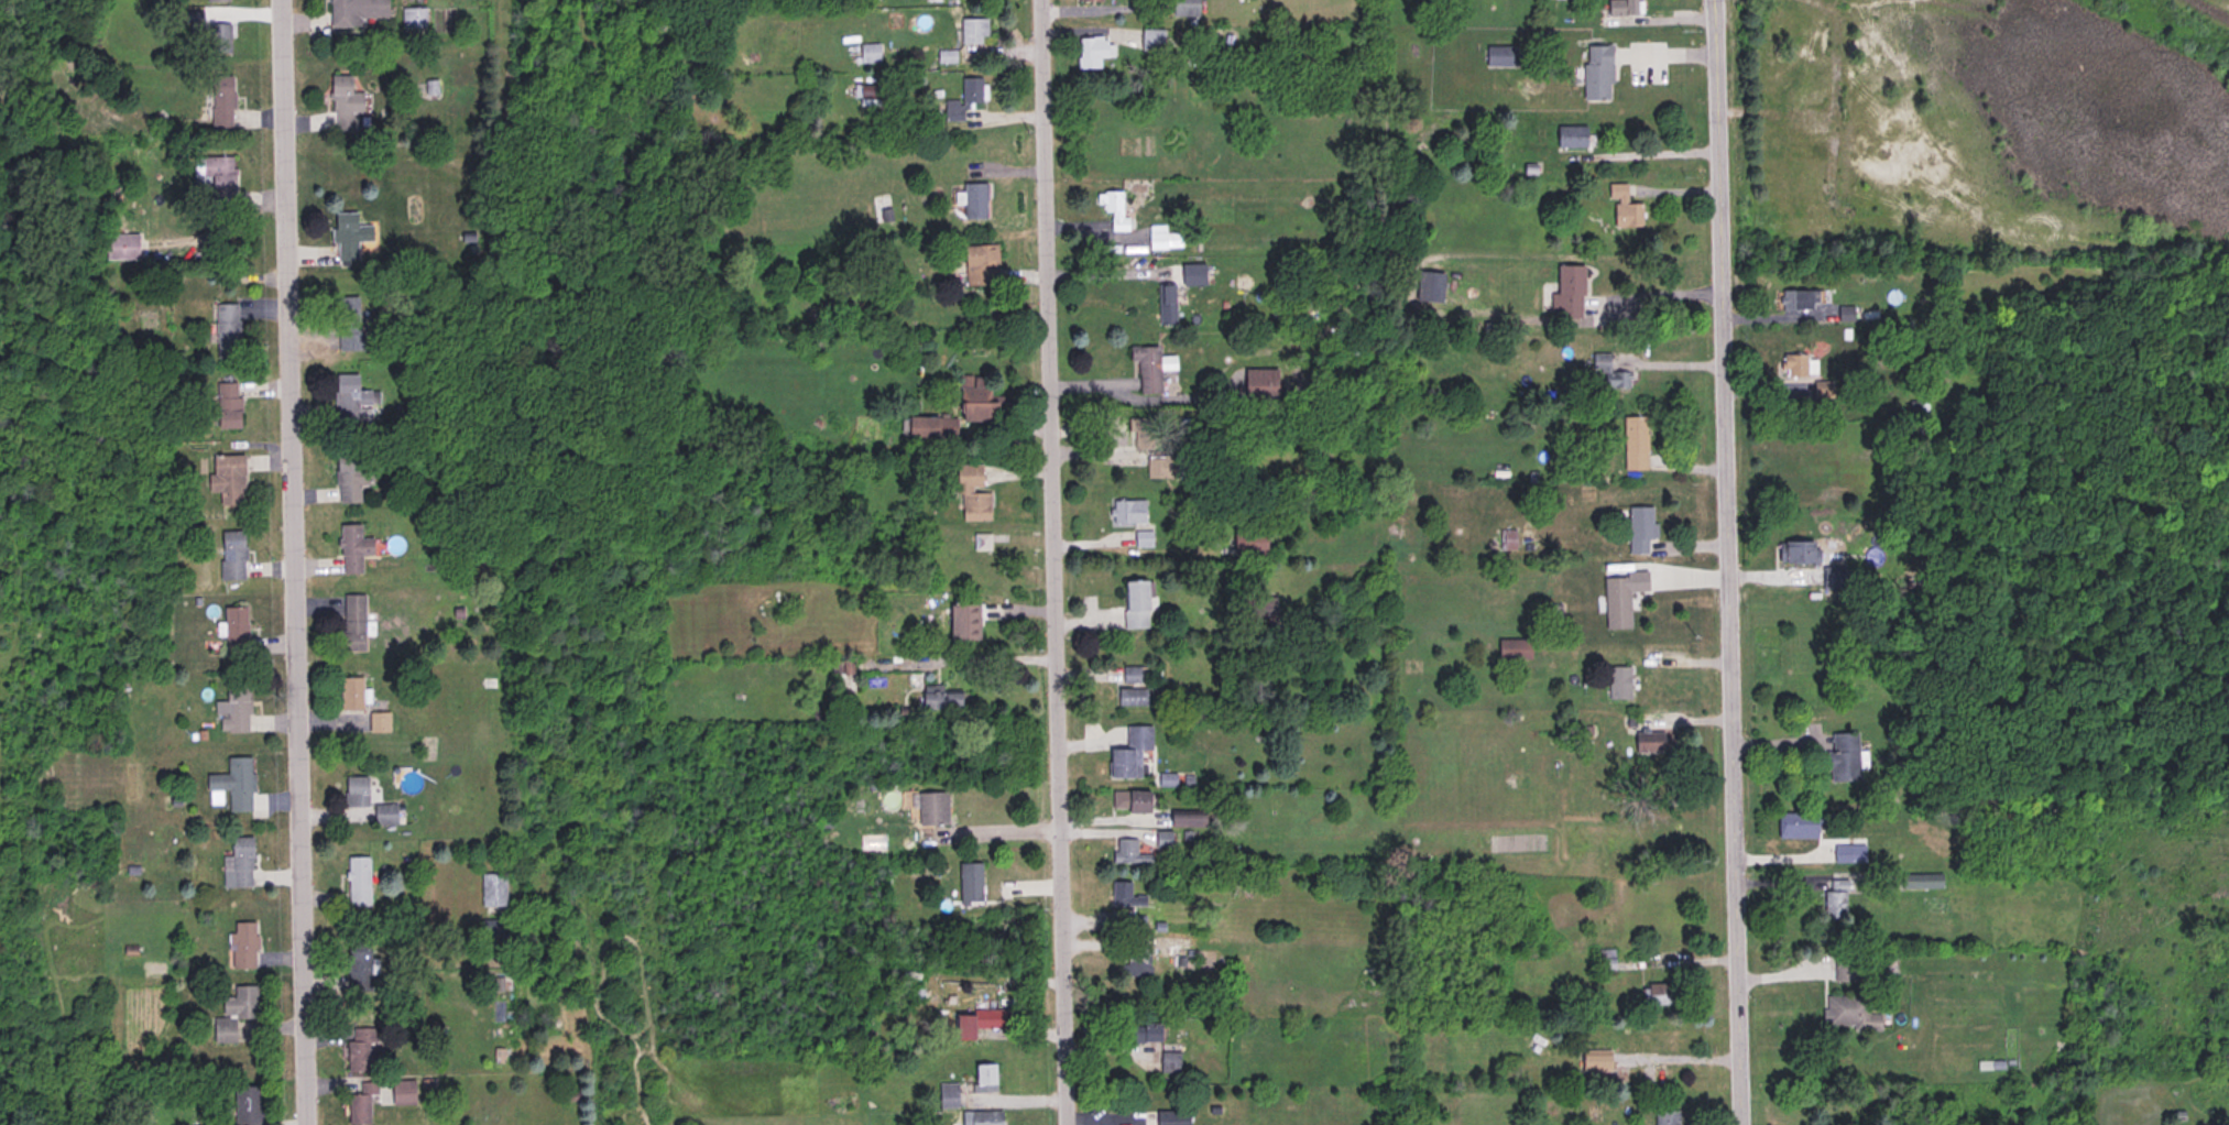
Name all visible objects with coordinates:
building: (214, 1)
building: (1089, 1)
building: (1621, 7)
building: (1184, 8)
building: (354, 12)
building: (413, 18)
building: (972, 31)
building: (218, 40)
building: (1151, 40)
road: (1674, 48)
building: (1090, 52)
building: (868, 53)
building: (1500, 56)
building: (1596, 72)
building: (972, 90)
building: (220, 101)
building: (338, 108)
building: (1570, 138)
road: (1652, 153)
building: (215, 176)
building: (974, 201)
building: (1621, 208)
building: (1113, 209)
building: (348, 236)
building: (1157, 238)
building: (121, 247)
building: (979, 265)
road: (1105, 274)
building: (1192, 274)
building: (1429, 286)
building: (1567, 293)
road: (1657, 293)
building: (1798, 301)
building: (1166, 305)
building: (348, 324)
building: (227, 330)
building: (1150, 367)
building: (1798, 367)
building: (1609, 372)
building: (1259, 383)
building: (352, 400)
building: (979, 401)
building: (227, 405)
building: (1135, 424)
building: (930, 427)
building: (1633, 444)
building: (1165, 467)
building: (350, 478)
building: (227, 479)
building: (971, 495)
building: (1127, 511)
building: (1639, 531)
building: (1143, 538)
building: (1248, 542)
building: (352, 548)
building: (1799, 554)
building: (231, 556)
road: (1056, 561)
road: (1730, 561)
road: (296, 562)
building: (1135, 604)
building: (1616, 604)
building: (1259, 609)
building: (963, 621)
building: (352, 623)
building: (234, 632)
building: (1514, 649)
road: (999, 658)
building: (1130, 676)
building: (1618, 684)
building: (350, 695)
building: (1132, 697)
building: (940, 700)
building: (232, 709)
building: (378, 723)
building: (1649, 742)
building: (1129, 752)
building: (1842, 757)
building: (233, 784)
building: (354, 793)
building: (1129, 802)
building: (931, 808)
building: (385, 815)
building: (1185, 820)
building: (1796, 826)
road: (996, 831)
building: (1162, 839)
building: (1128, 852)
building: (1843, 854)
building: (239, 862)
building: (357, 882)
building: (1921, 882)
building: (969, 884)
building: (493, 891)
building: (1125, 896)
building: (1834, 905)
building: (1145, 924)
building: (492, 929)
building: (242, 946)
building: (1138, 962)
building: (358, 965)
building: (1842, 972)
building: (1660, 994)
building: (1851, 1014)
building: (237, 1017)
building: (977, 1023)
building: (1141, 1034)
building: (1664, 1037)
building: (361, 1051)
building: (1169, 1062)
building: (984, 1078)
building: (402, 1092)
building: (947, 1095)
building: (361, 1103)
building: (247, 1106)
building: (2033, 1116)
building: (985, 1117)
building: (1171, 1117)
building: (1665, 1117)

